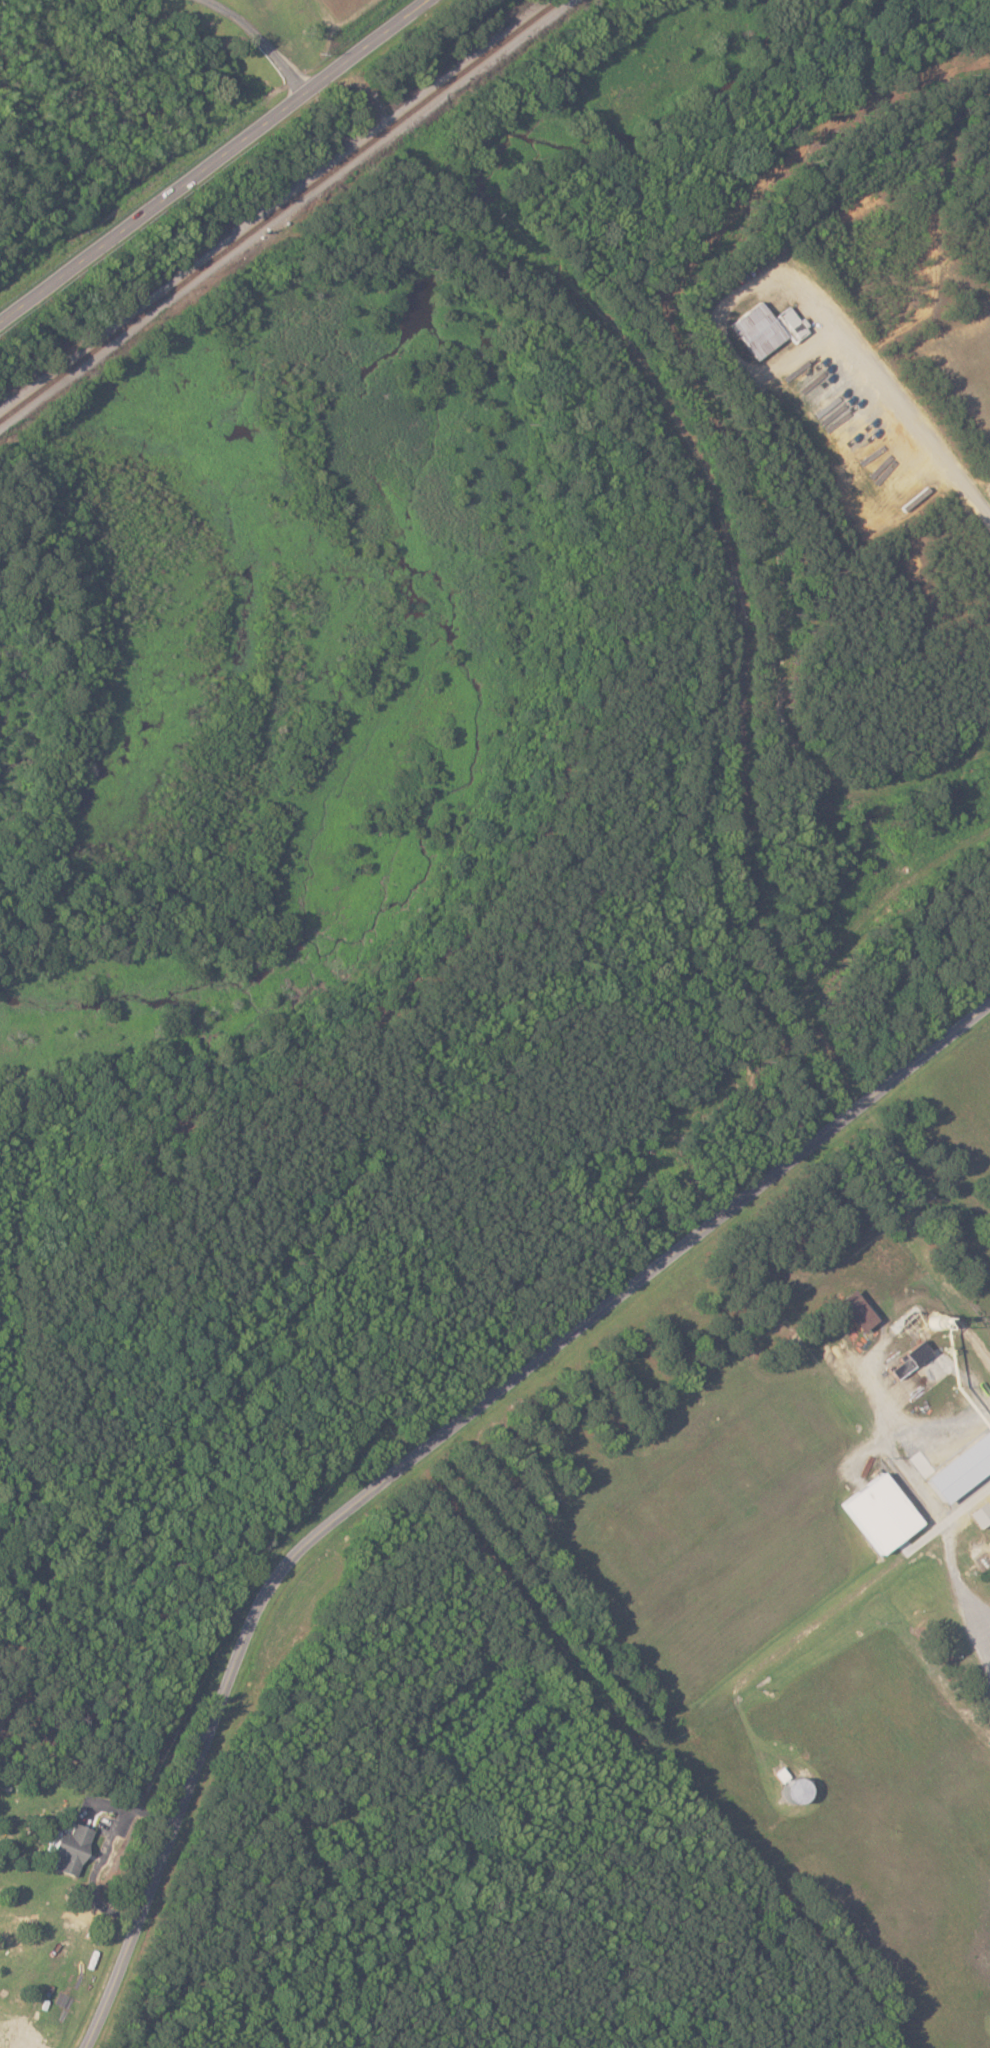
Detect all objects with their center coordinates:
road: (260, 39)
road: (215, 159)
railway: (278, 209)
building: (763, 327)
road: (907, 411)
building: (849, 1310)
road: (431, 1443)
road: (925, 1491)
road: (968, 1508)
building: (874, 1510)
road: (166, 1618)
building: (785, 1789)
building: (77, 1850)

